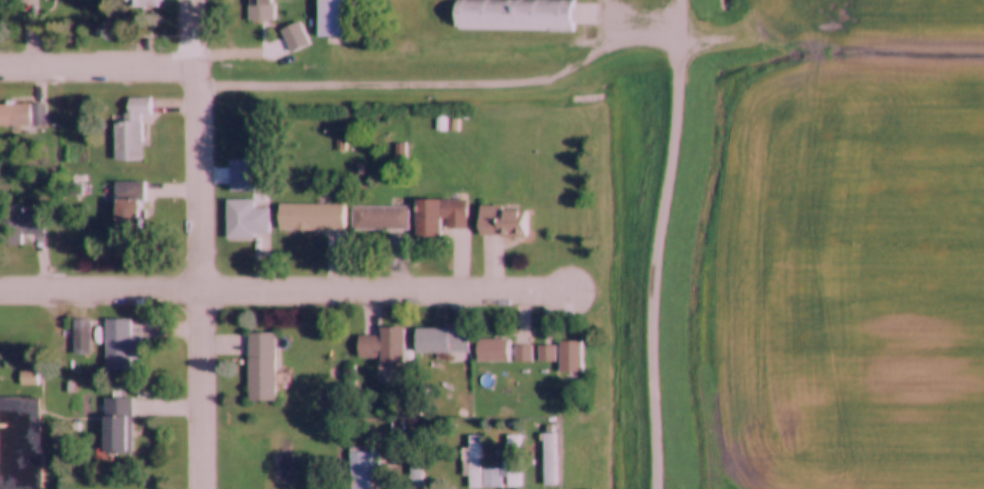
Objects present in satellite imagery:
building: (142, 4)
building: (260, 10)
building: (513, 15)
building: (333, 21)
building: (293, 37)
road: (627, 38)
road: (97, 67)
building: (22, 114)
building: (130, 130)
building: (128, 204)
building: (310, 216)
building: (438, 217)
building: (380, 218)
building: (244, 219)
building: (500, 220)
building: (20, 223)
road: (652, 243)
road: (198, 244)
road: (100, 290)
road: (385, 291)
building: (81, 336)
building: (441, 340)
building: (121, 343)
building: (382, 345)
building: (492, 350)
building: (545, 352)
building: (522, 353)
building: (569, 357)
building: (261, 366)
building: (116, 425)
building: (19, 442)
building: (548, 459)
building: (513, 463)
building: (362, 468)
building: (416, 473)

